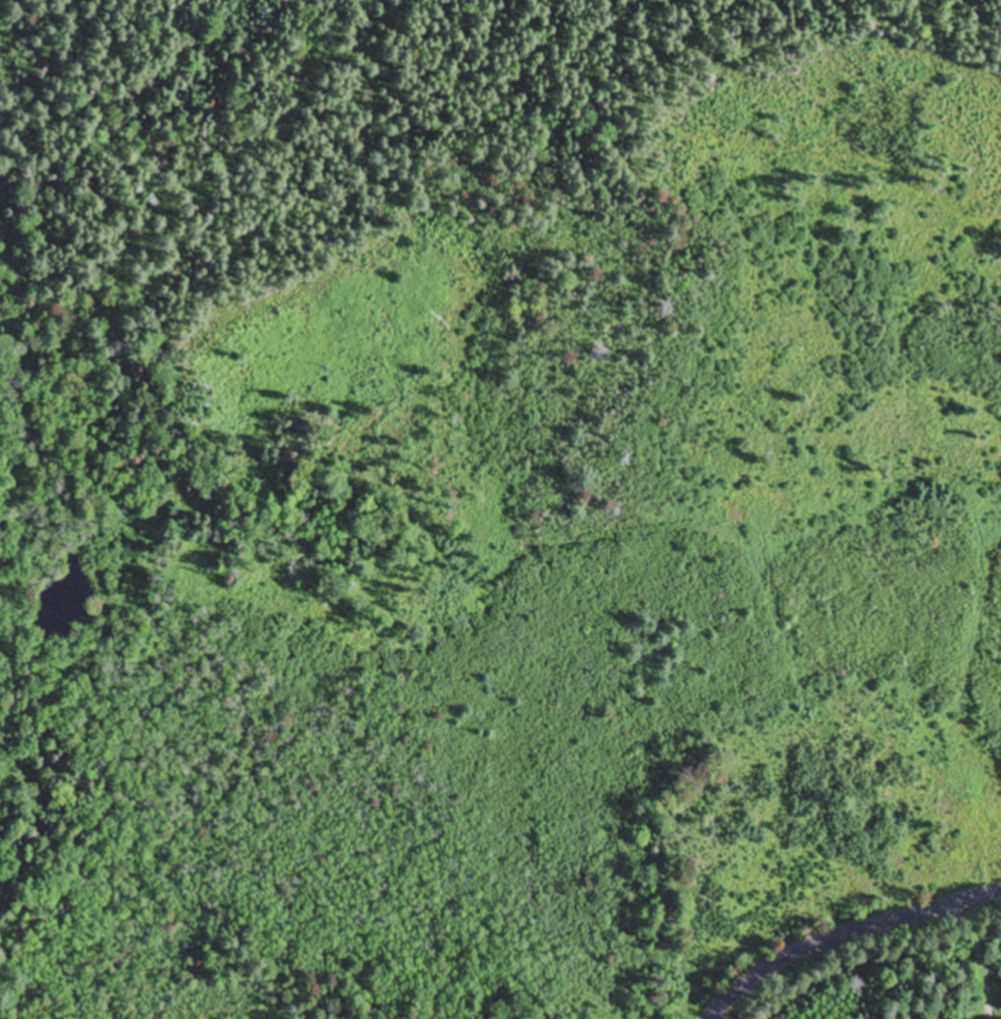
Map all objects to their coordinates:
road: (844, 937)
road: (903, 969)

